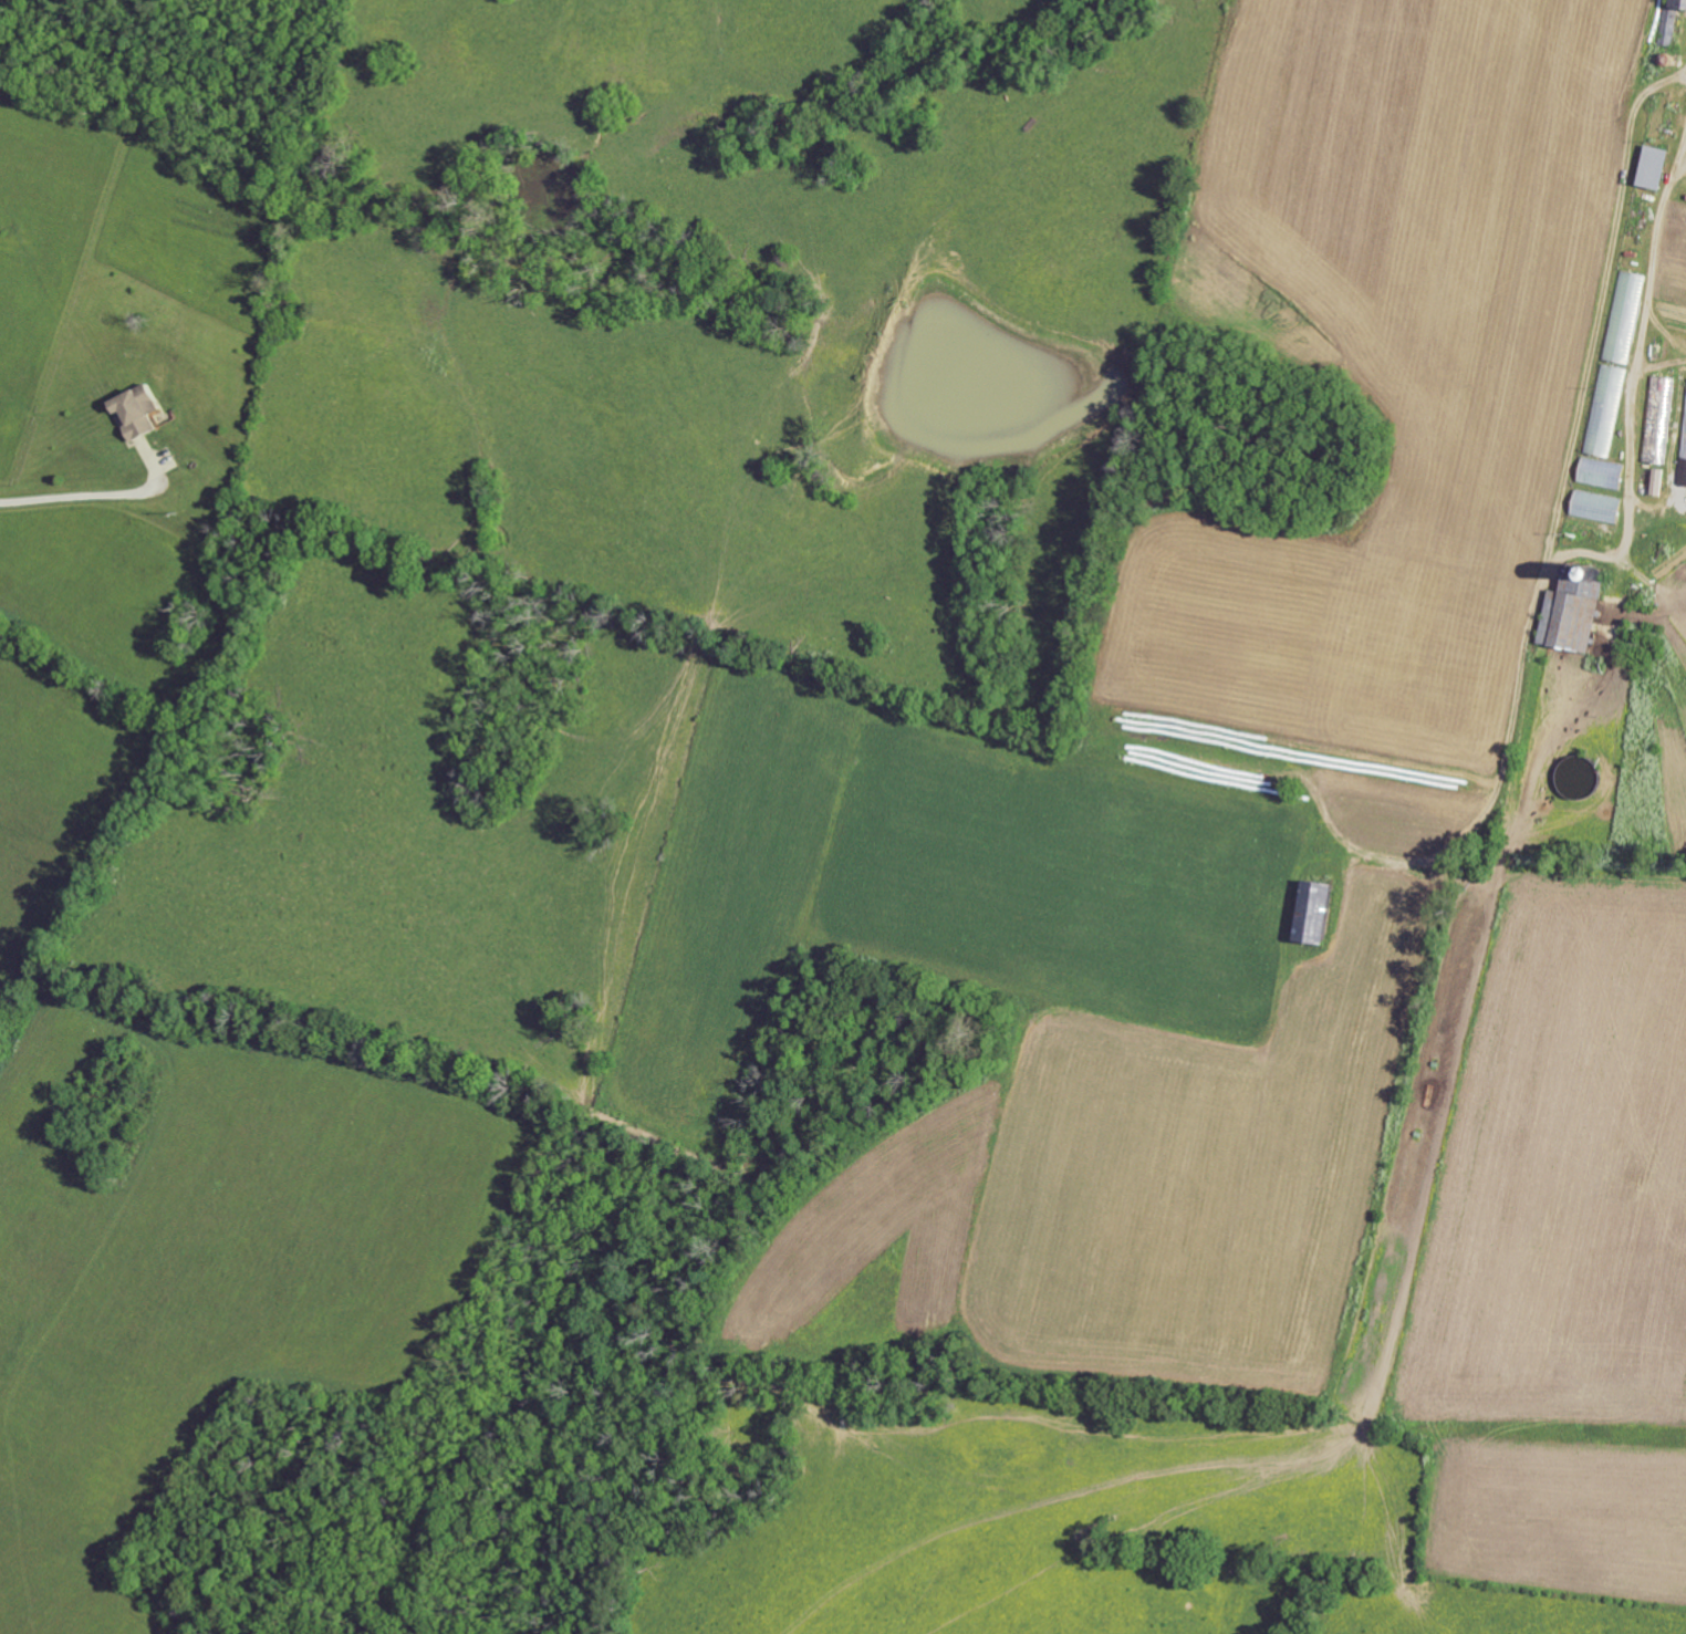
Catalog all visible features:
building: (1679, 4)
building: (1668, 27)
building: (1654, 168)
building: (1624, 316)
road: (1637, 345)
building: (136, 410)
building: (1657, 418)
building: (1600, 473)
road: (81, 497)
building: (1595, 507)
building: (1571, 614)
building: (1314, 912)

